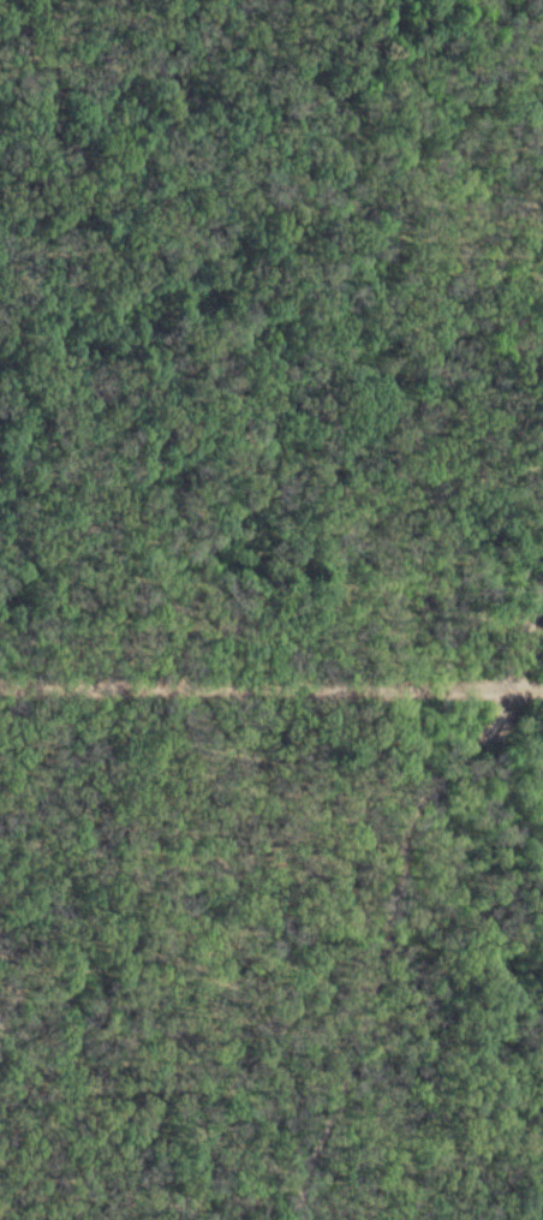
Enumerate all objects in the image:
road: (271, 688)

